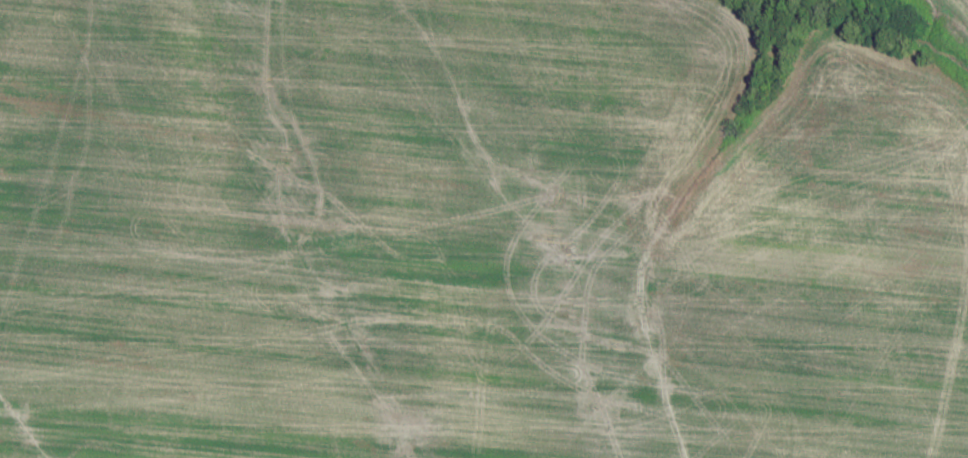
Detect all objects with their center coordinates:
road: (954, 7)
road: (577, 407)

